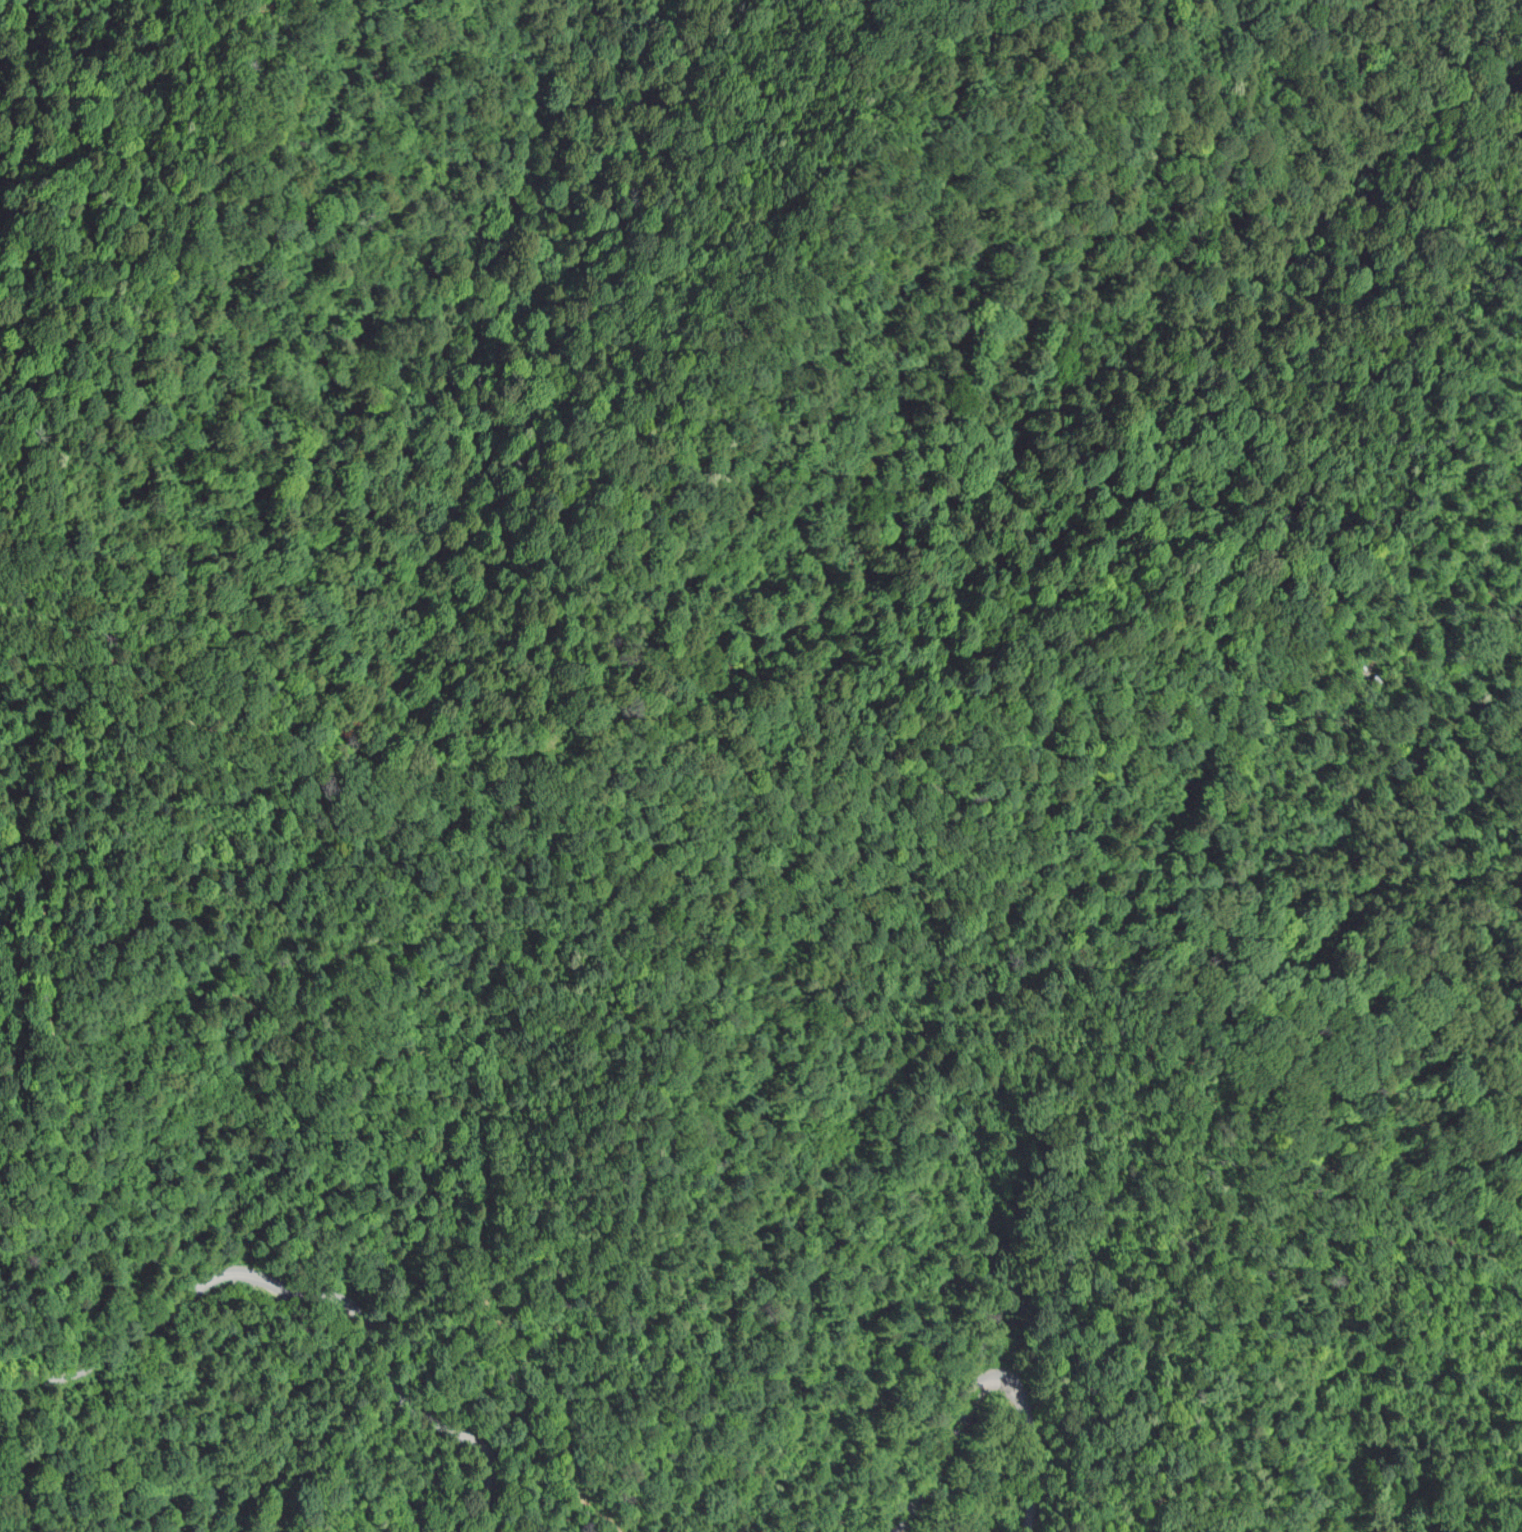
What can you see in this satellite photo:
road: (124, 1022)
road: (302, 1288)
road: (488, 1292)
road: (990, 1382)

